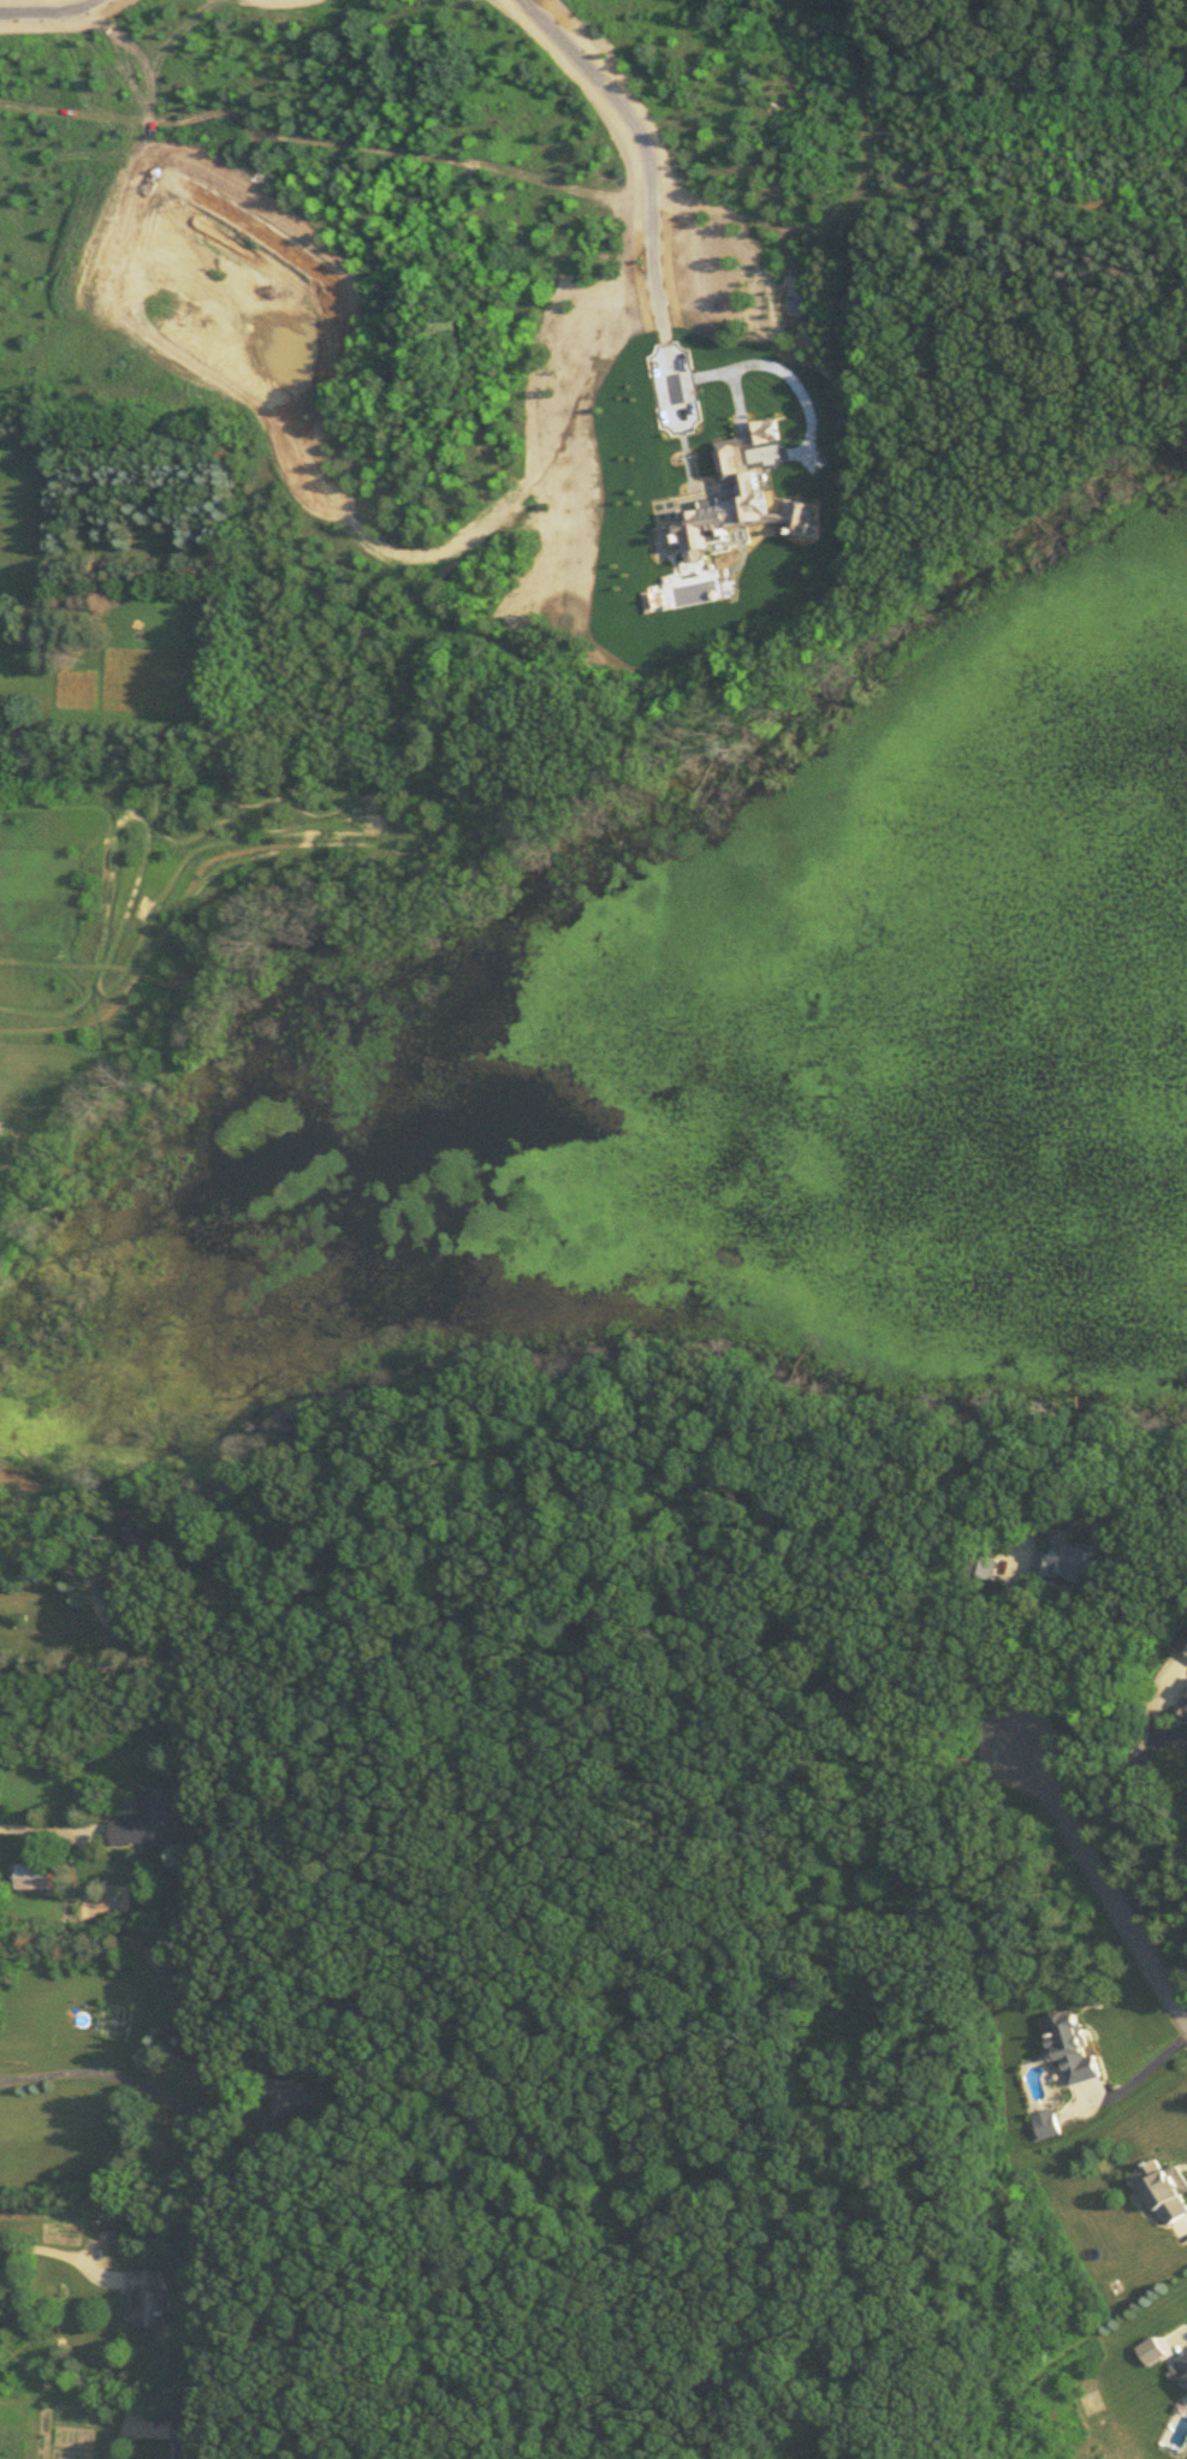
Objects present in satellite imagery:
road: (49, 7)
road: (646, 162)
building: (765, 428)
building: (796, 513)
building: (722, 515)
building: (140, 1527)
building: (1074, 1558)
building: (1182, 1641)
road: (1008, 1658)
building: (1182, 1703)
road: (1121, 1763)
building: (150, 1818)
road: (49, 1827)
building: (35, 1873)
road: (1157, 1879)
road: (1108, 1887)
building: (1073, 2043)
road: (1139, 2074)
road: (135, 2081)
building: (290, 2093)
building: (1047, 2121)
building: (1169, 2190)
road: (30, 2246)
building: (148, 2299)
road: (1183, 2330)
building: (1151, 2348)
building: (1183, 2364)
road: (125, 2433)
building: (189, 2437)

